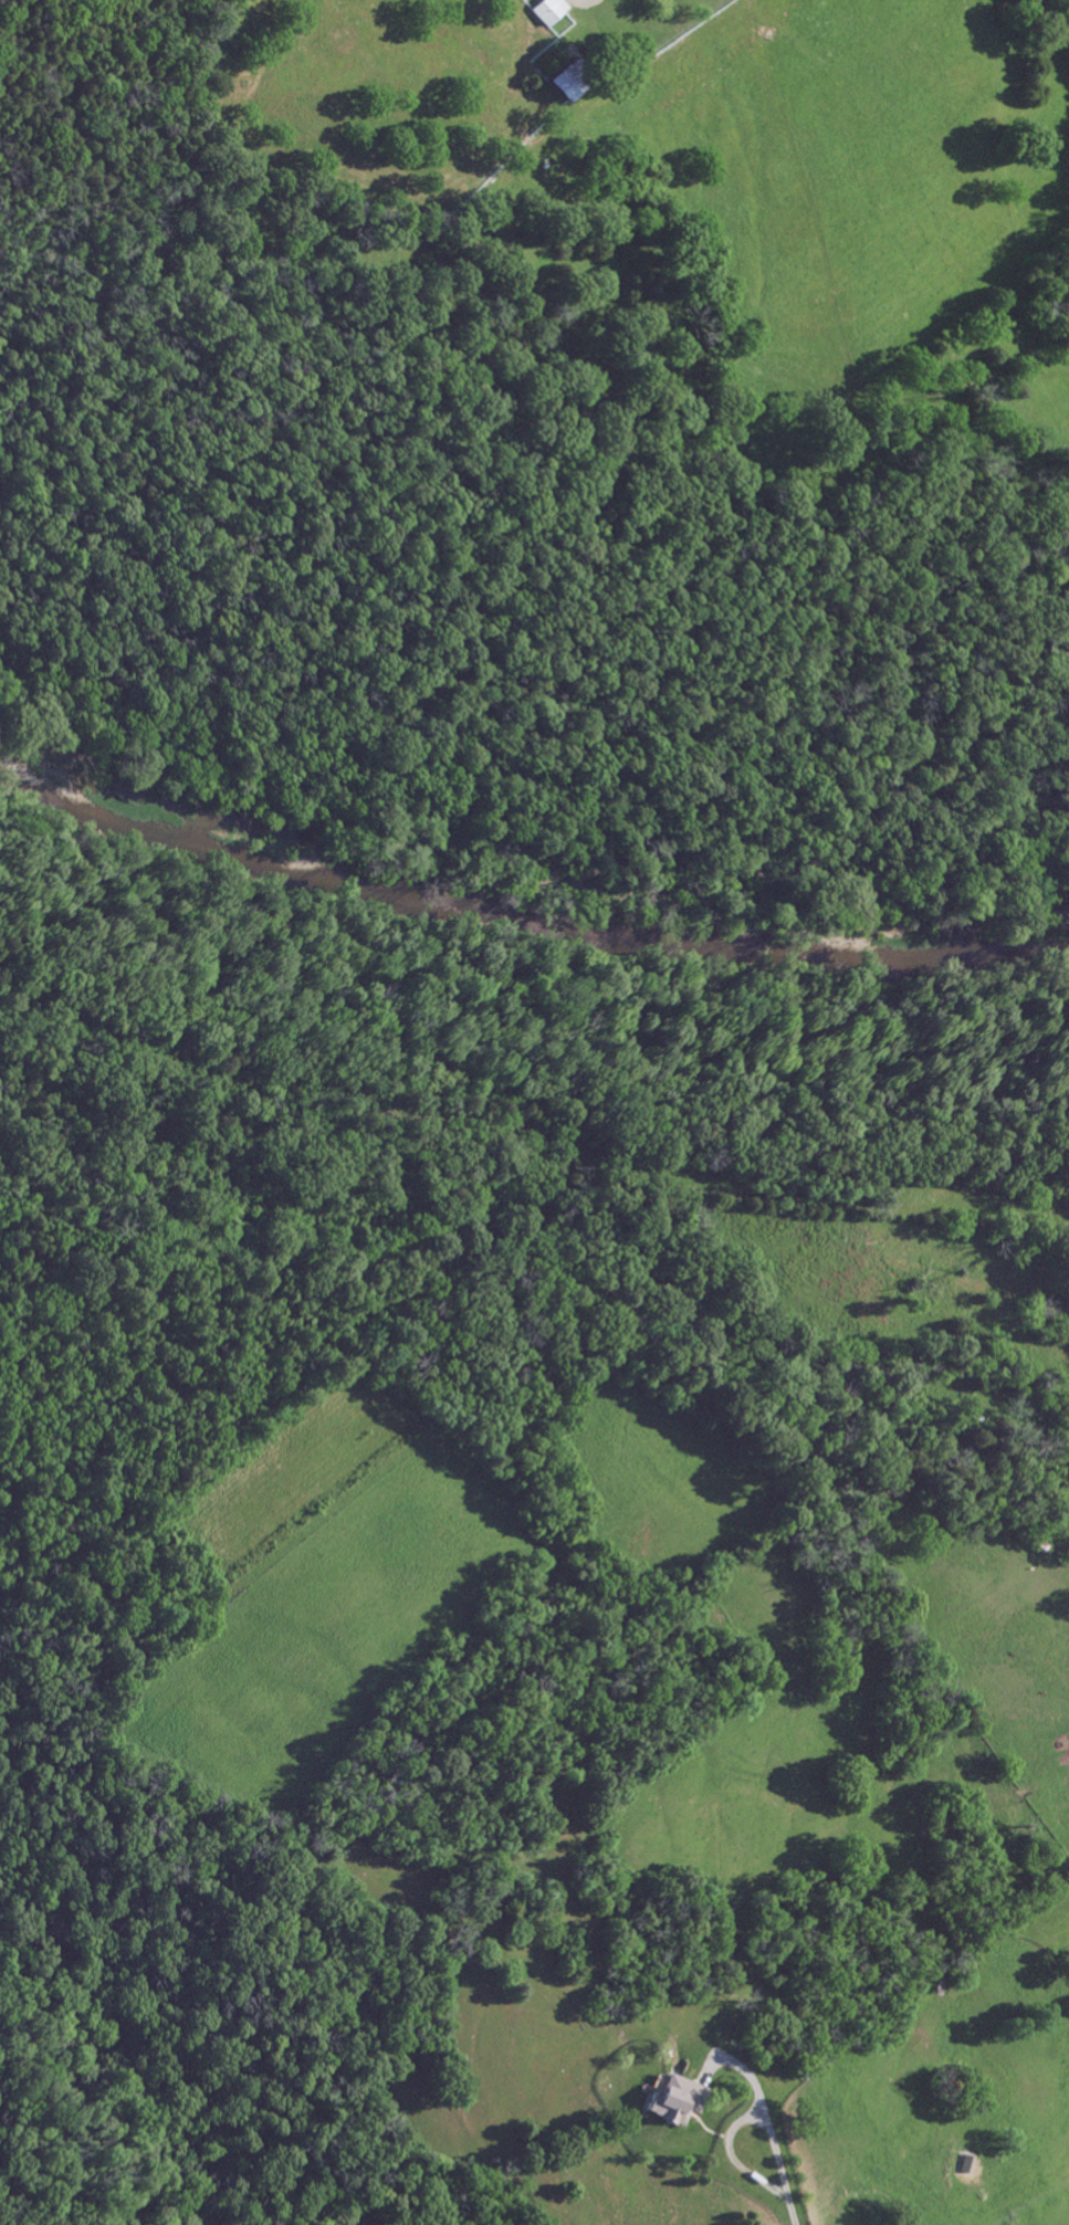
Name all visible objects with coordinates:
building: (546, 11)
building: (554, 90)
river: (525, 913)
building: (668, 2100)
road: (732, 2126)
road: (786, 2213)

